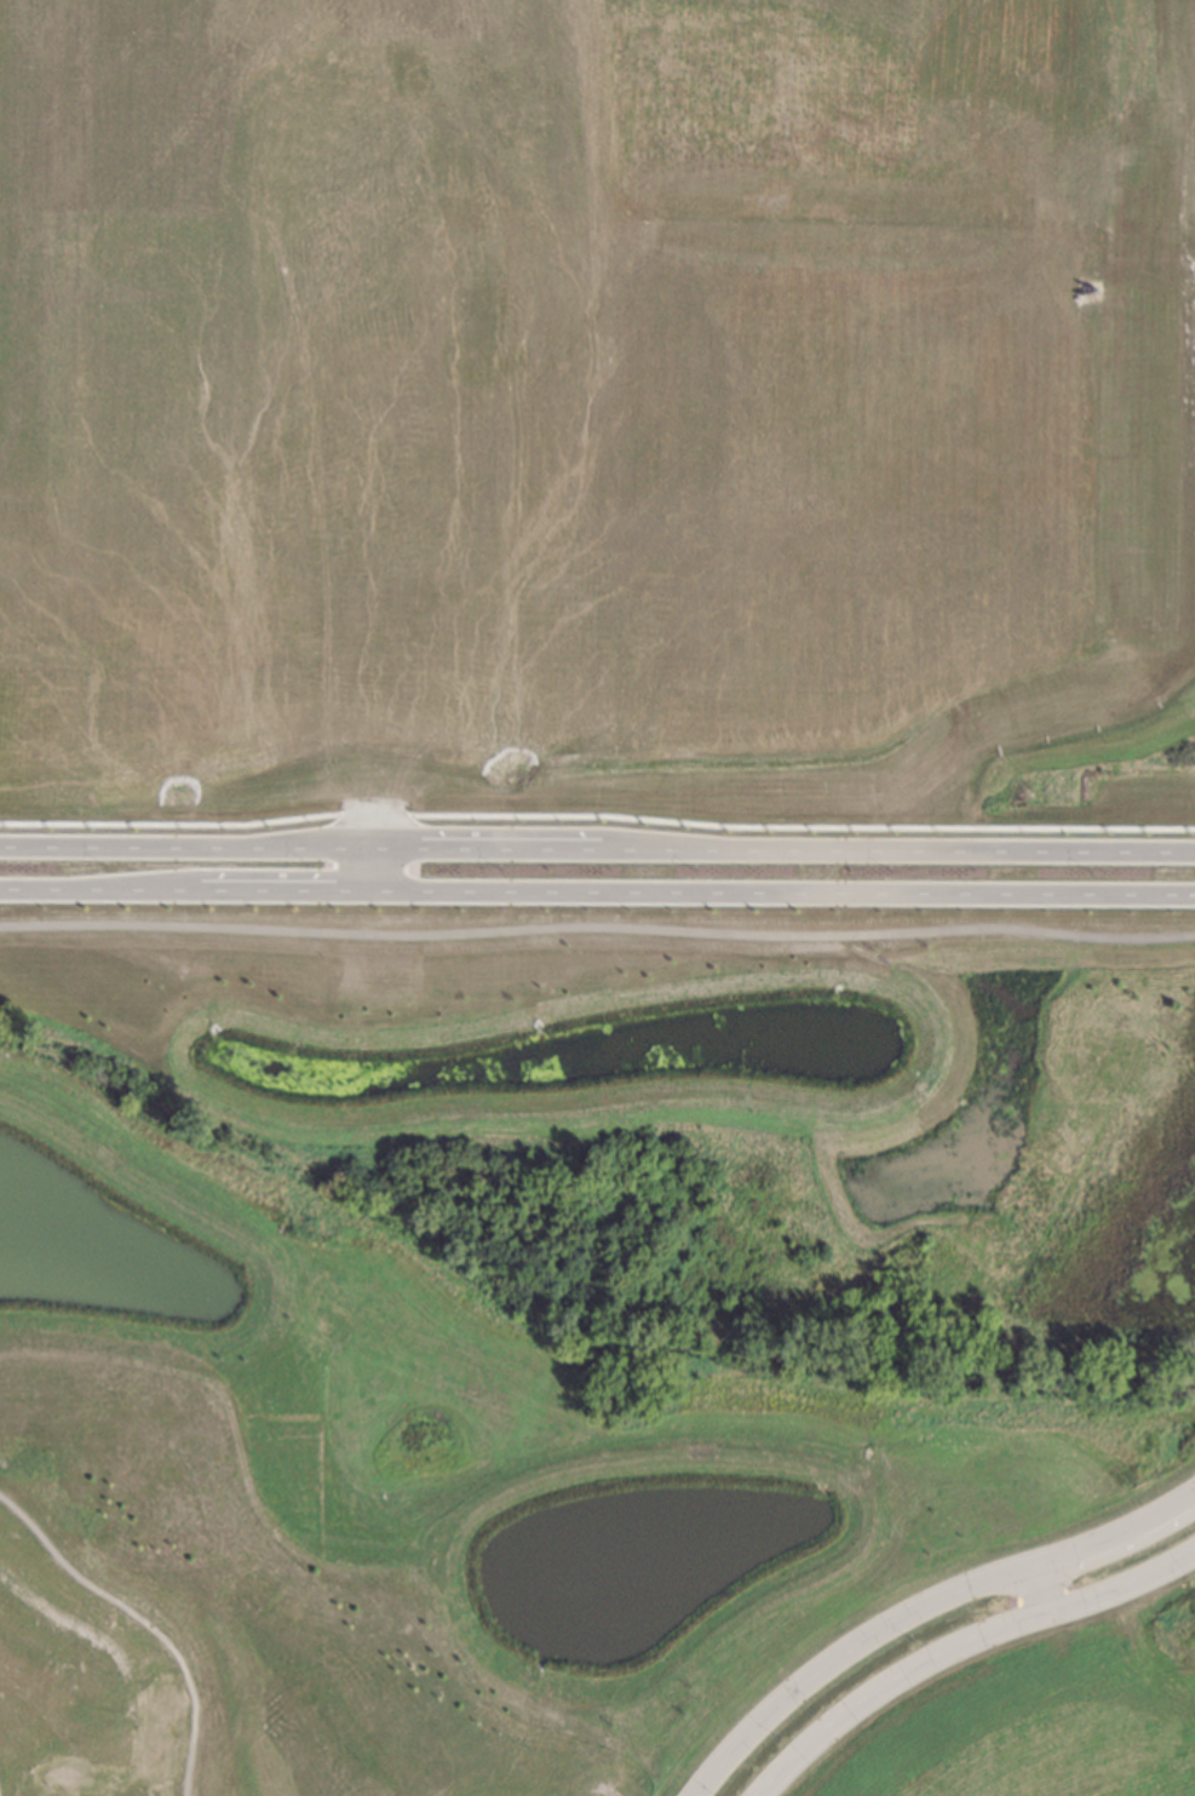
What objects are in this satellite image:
building: (476, 124)
road: (375, 825)
road: (188, 845)
road: (552, 847)
road: (961, 851)
road: (375, 870)
road: (39, 891)
road: (226, 893)
road: (785, 894)
road: (597, 928)
road: (1115, 1538)
road: (1040, 1591)
road: (839, 1651)
road: (955, 1651)

